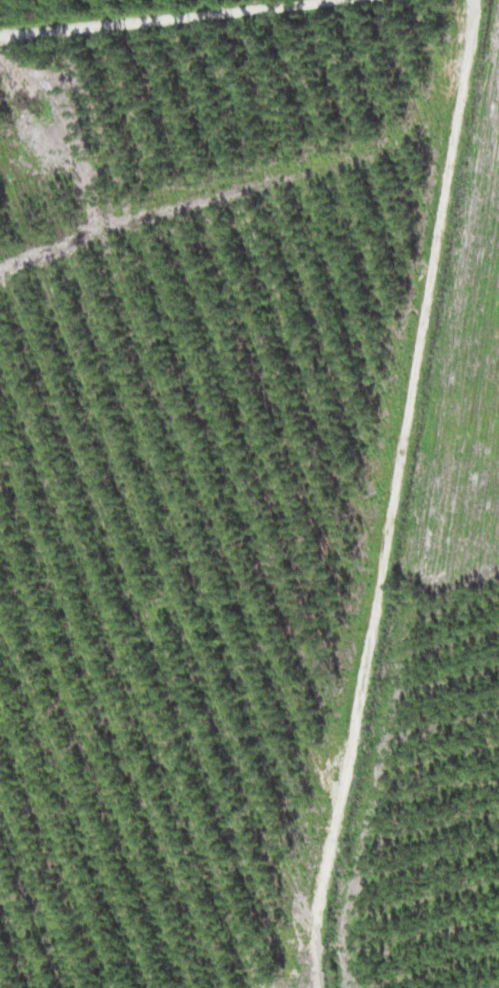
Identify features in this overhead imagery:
road: (162, 21)
road: (419, 572)

